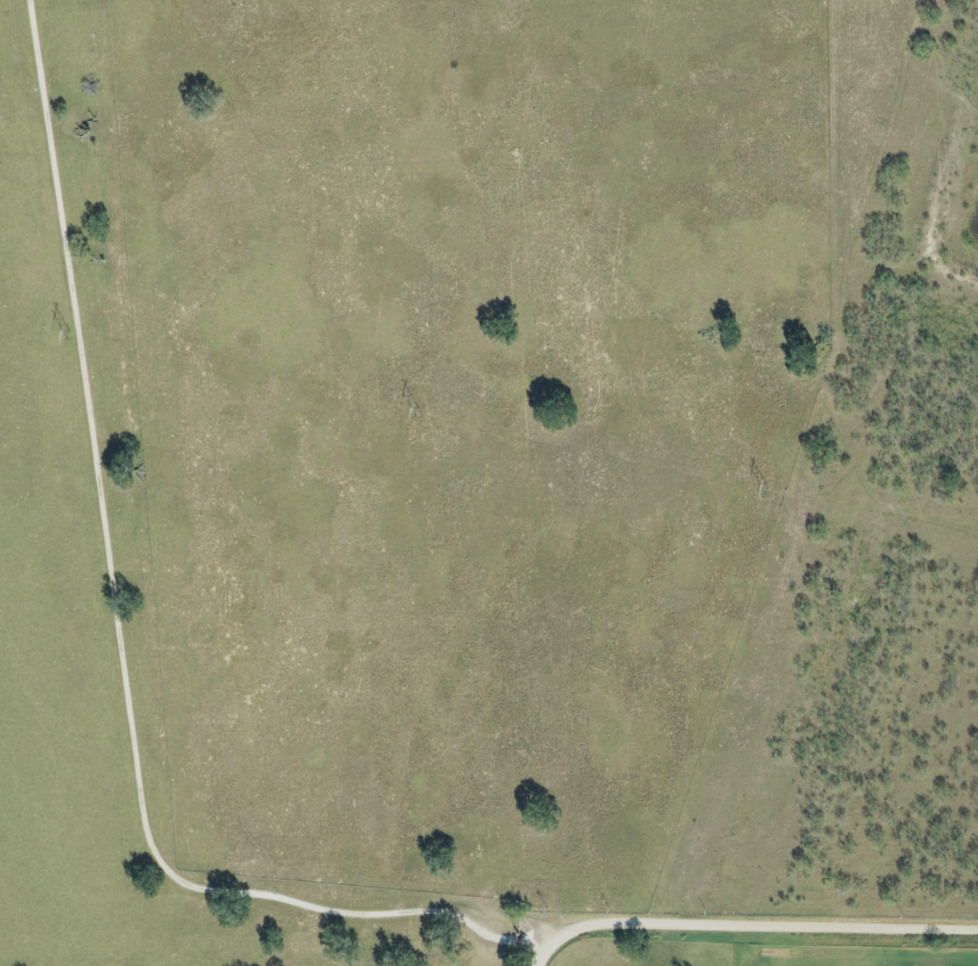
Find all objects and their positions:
power tower: (69, 337)
power tower: (412, 415)
power tower: (765, 490)
road: (117, 642)
road: (749, 922)

